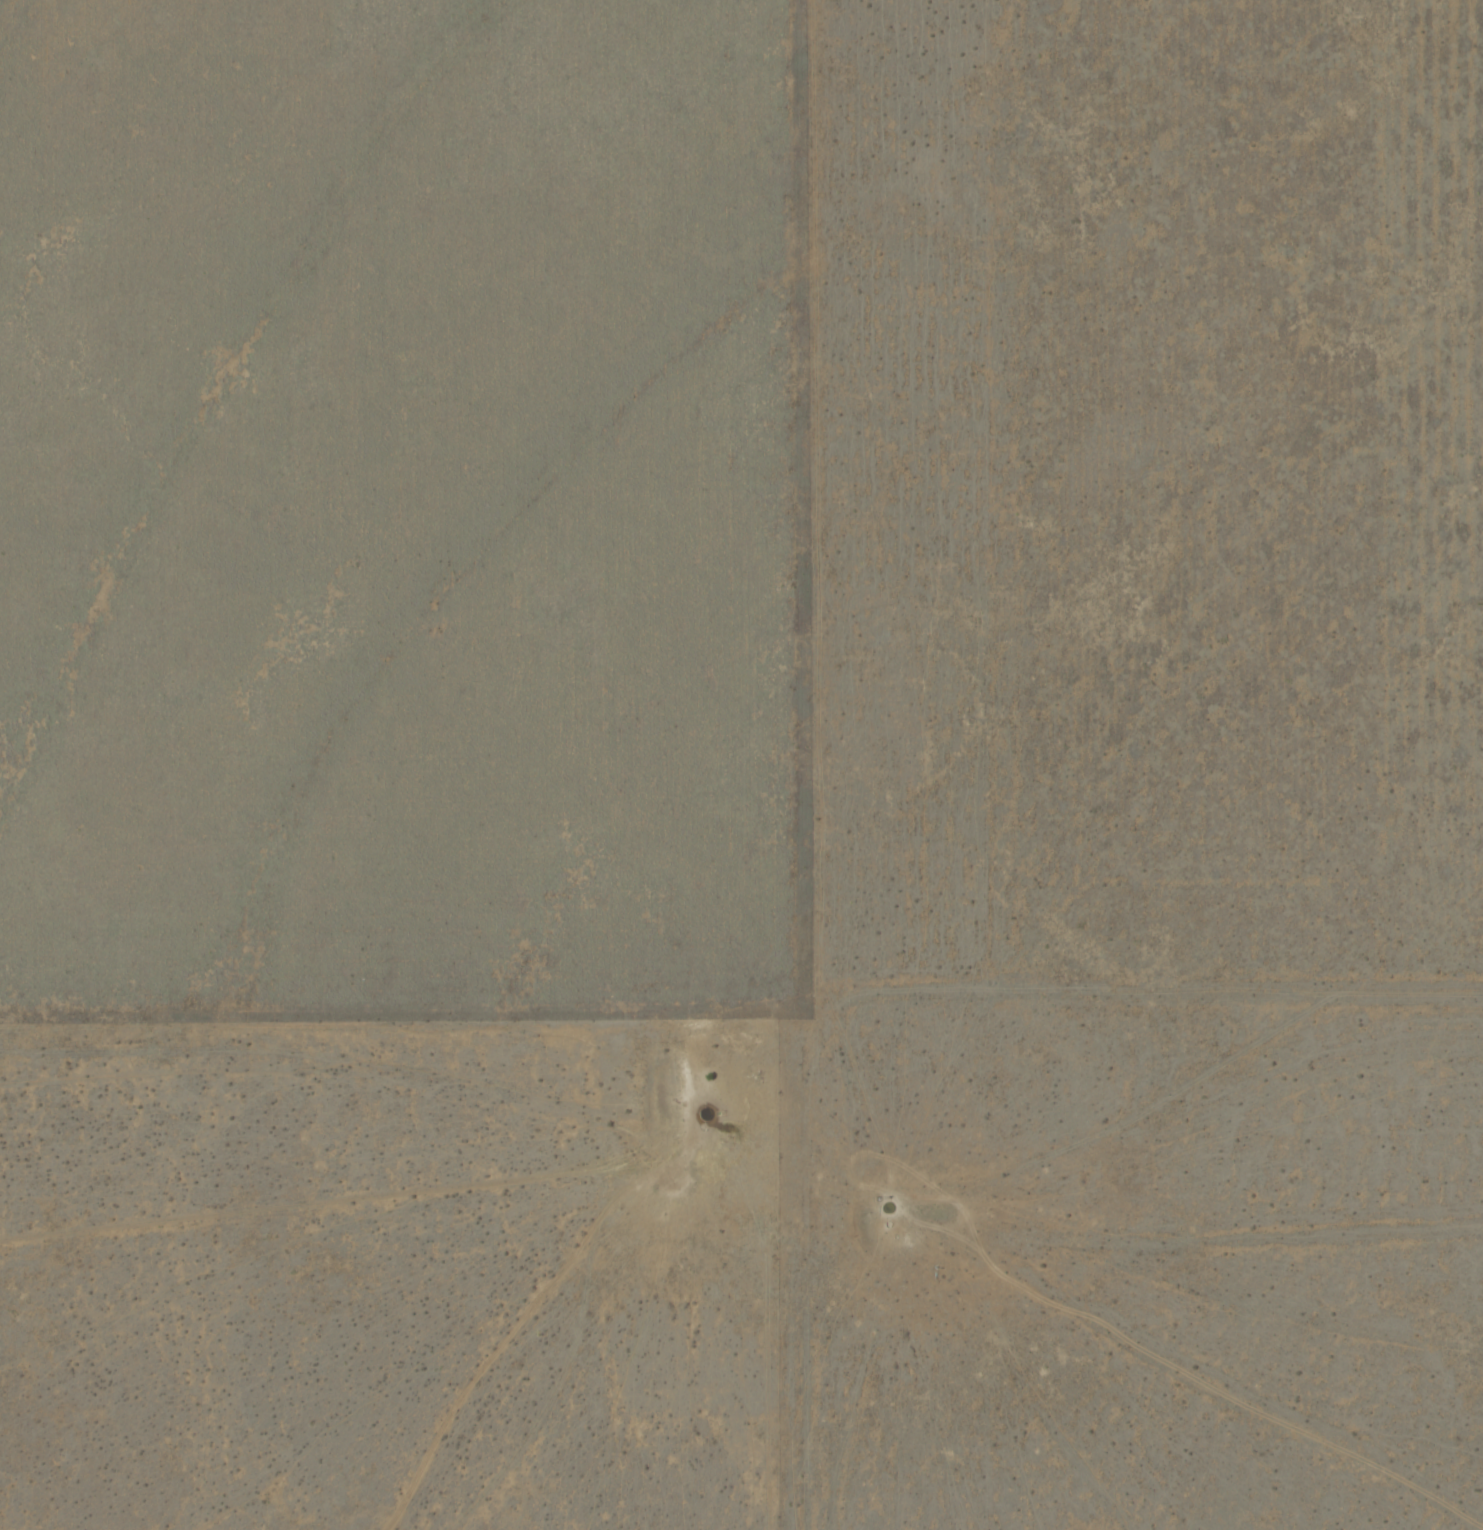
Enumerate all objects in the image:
road: (295, 1096)

